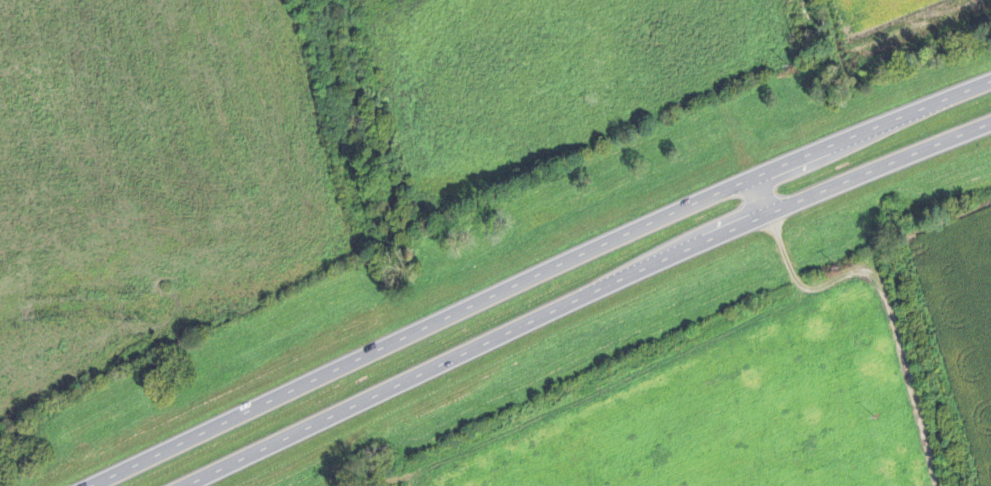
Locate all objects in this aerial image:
crop: (873, 8)
road: (760, 195)
road: (538, 276)
road: (582, 299)
crop: (965, 323)

